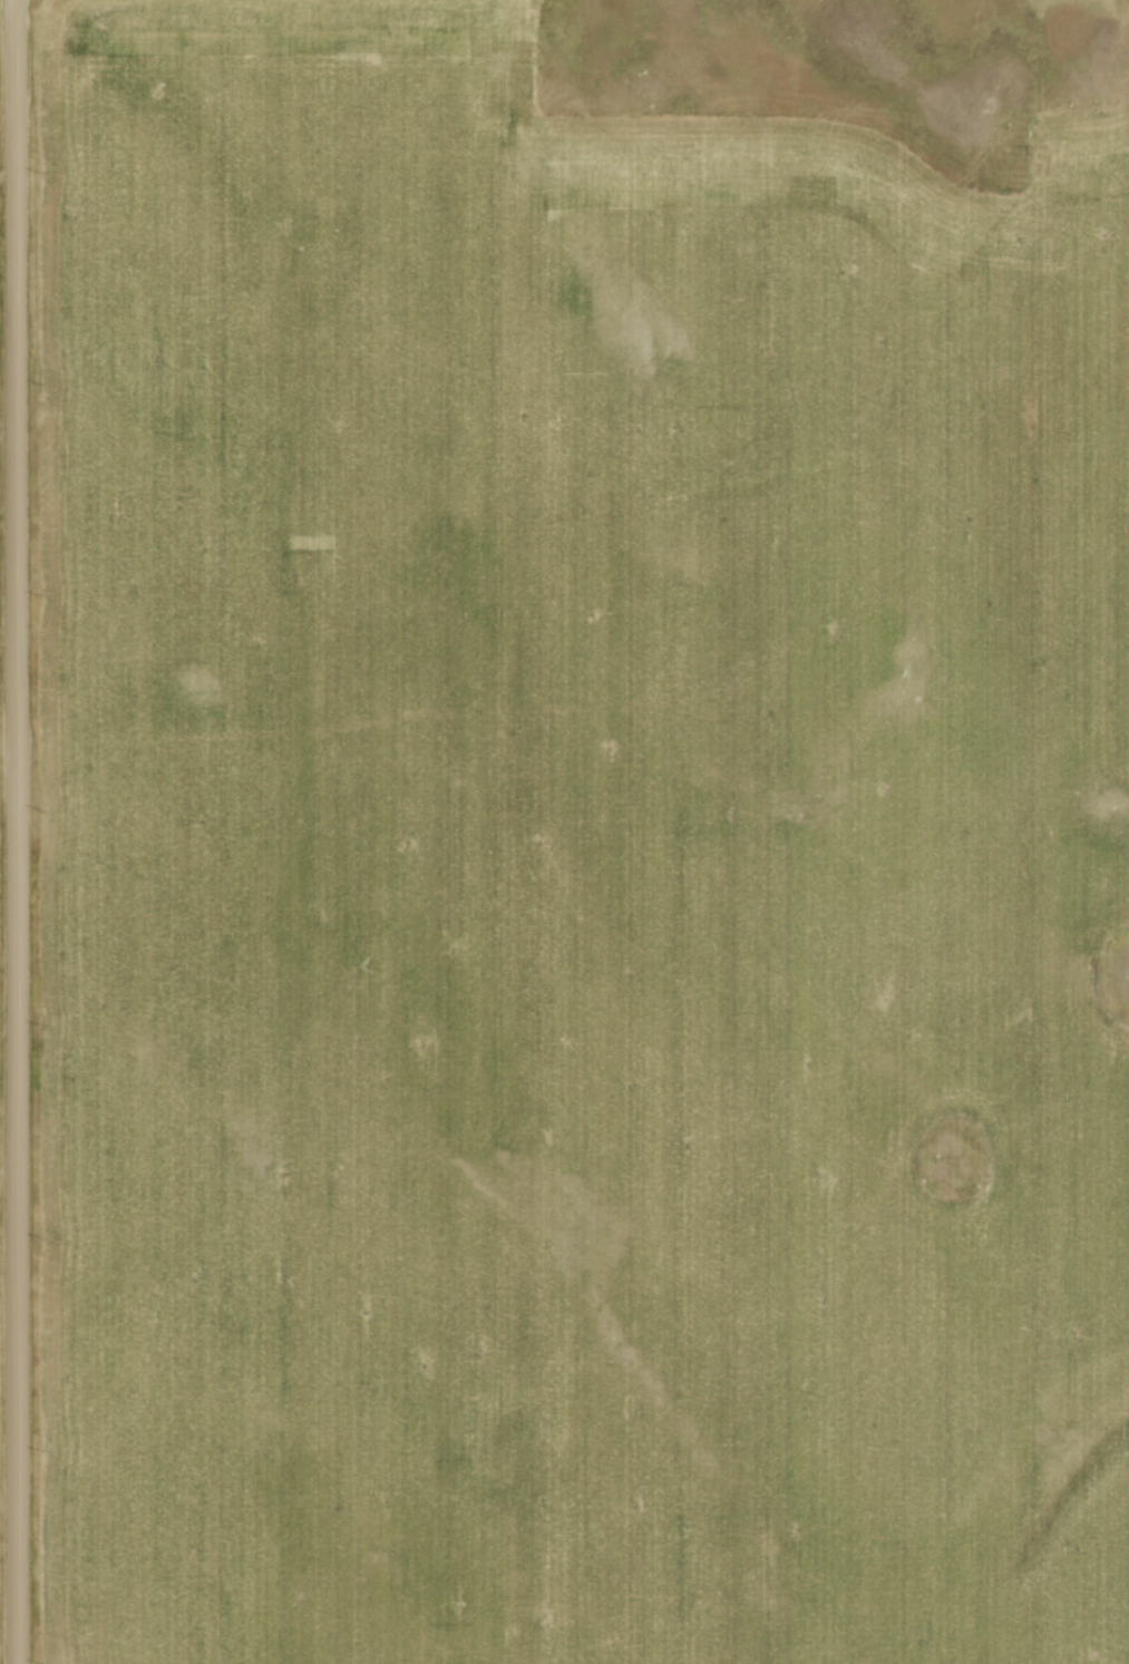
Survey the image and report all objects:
road: (17, 831)
crop: (573, 866)

